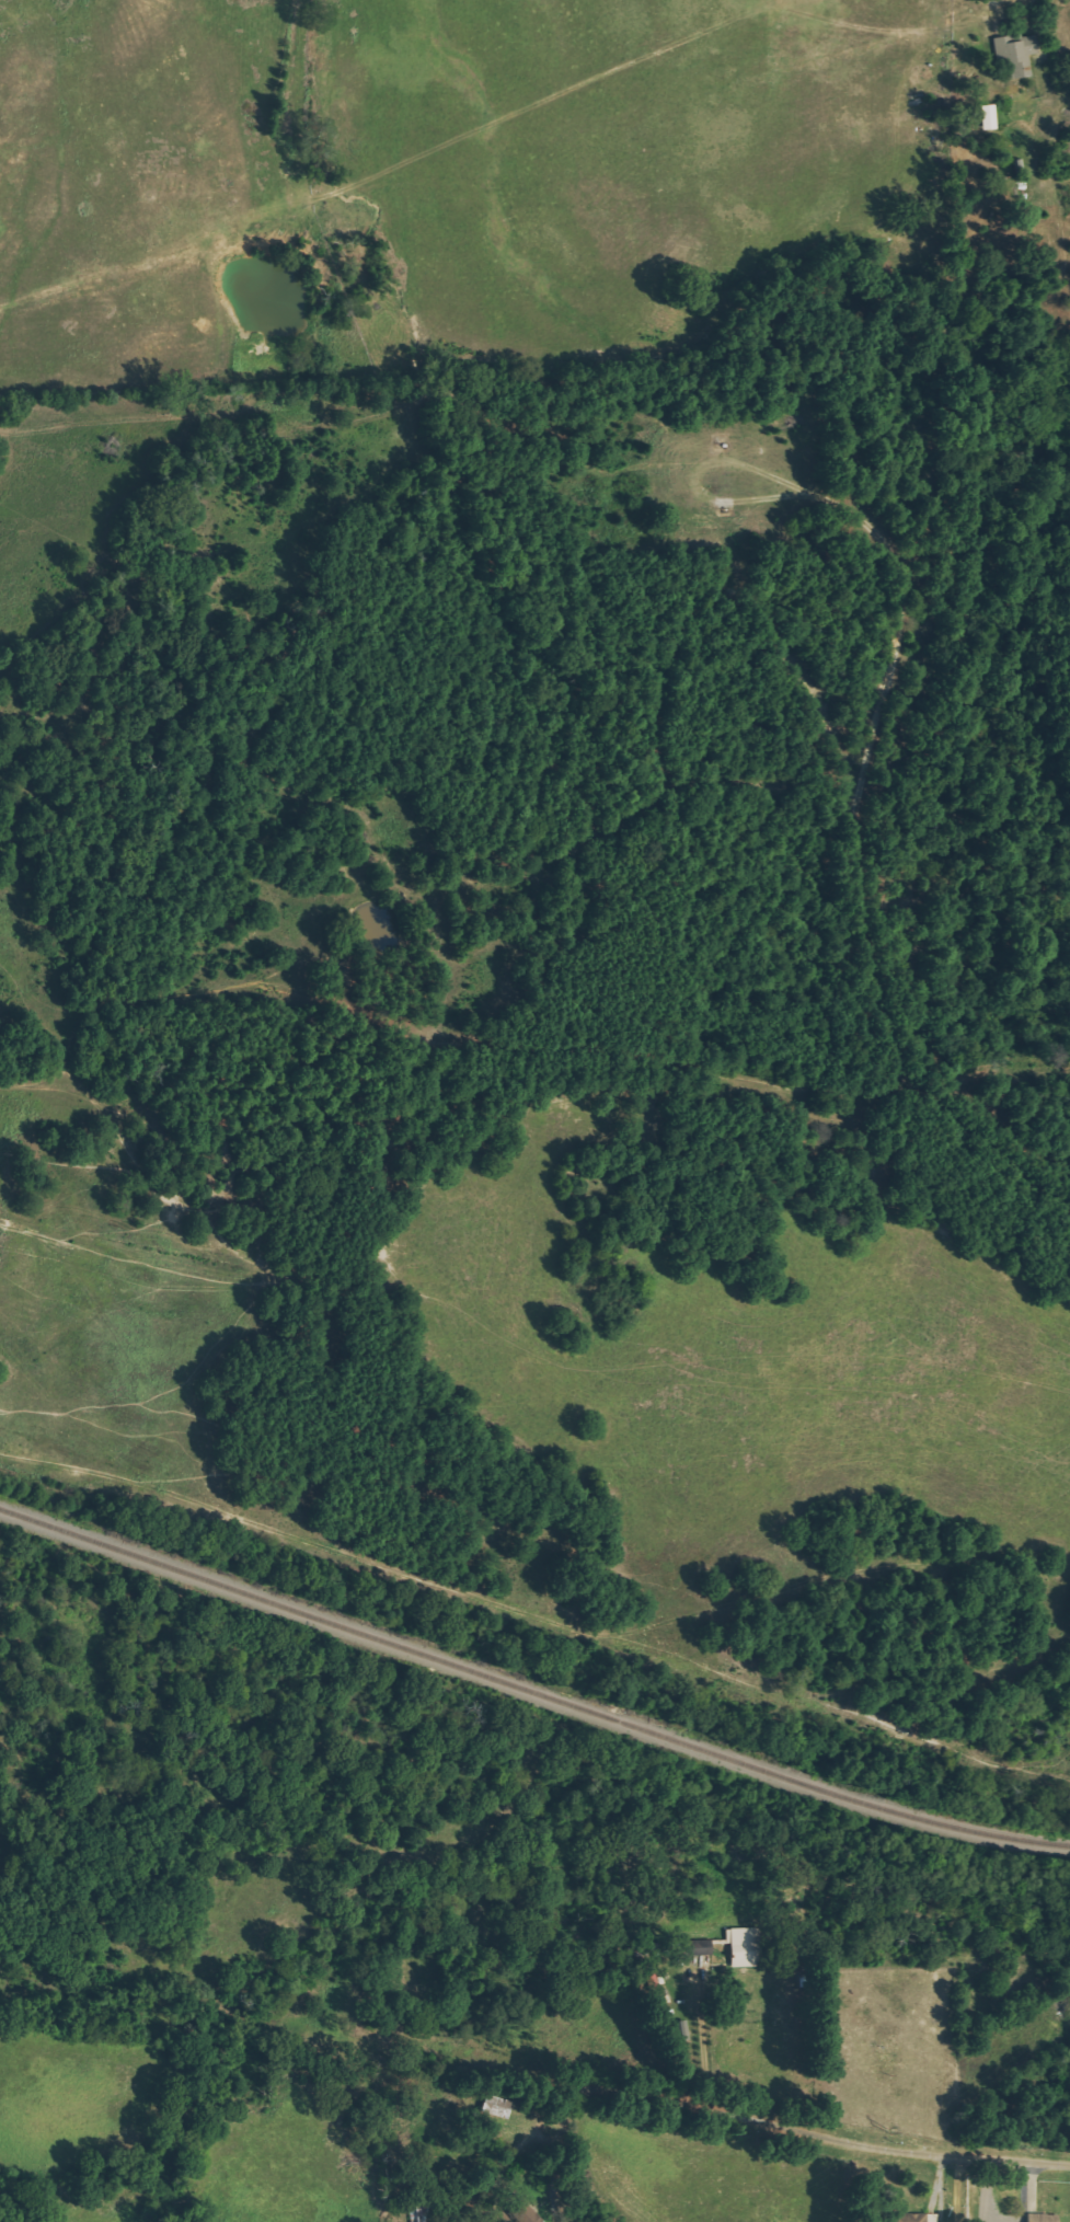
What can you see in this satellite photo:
building: (1014, 54)
building: (985, 119)
railway: (531, 1691)
building: (698, 1948)
building: (738, 1948)
power tower: (878, 2123)
road: (885, 2150)
building: (424, 2214)
building: (912, 2218)
building: (1039, 2218)

